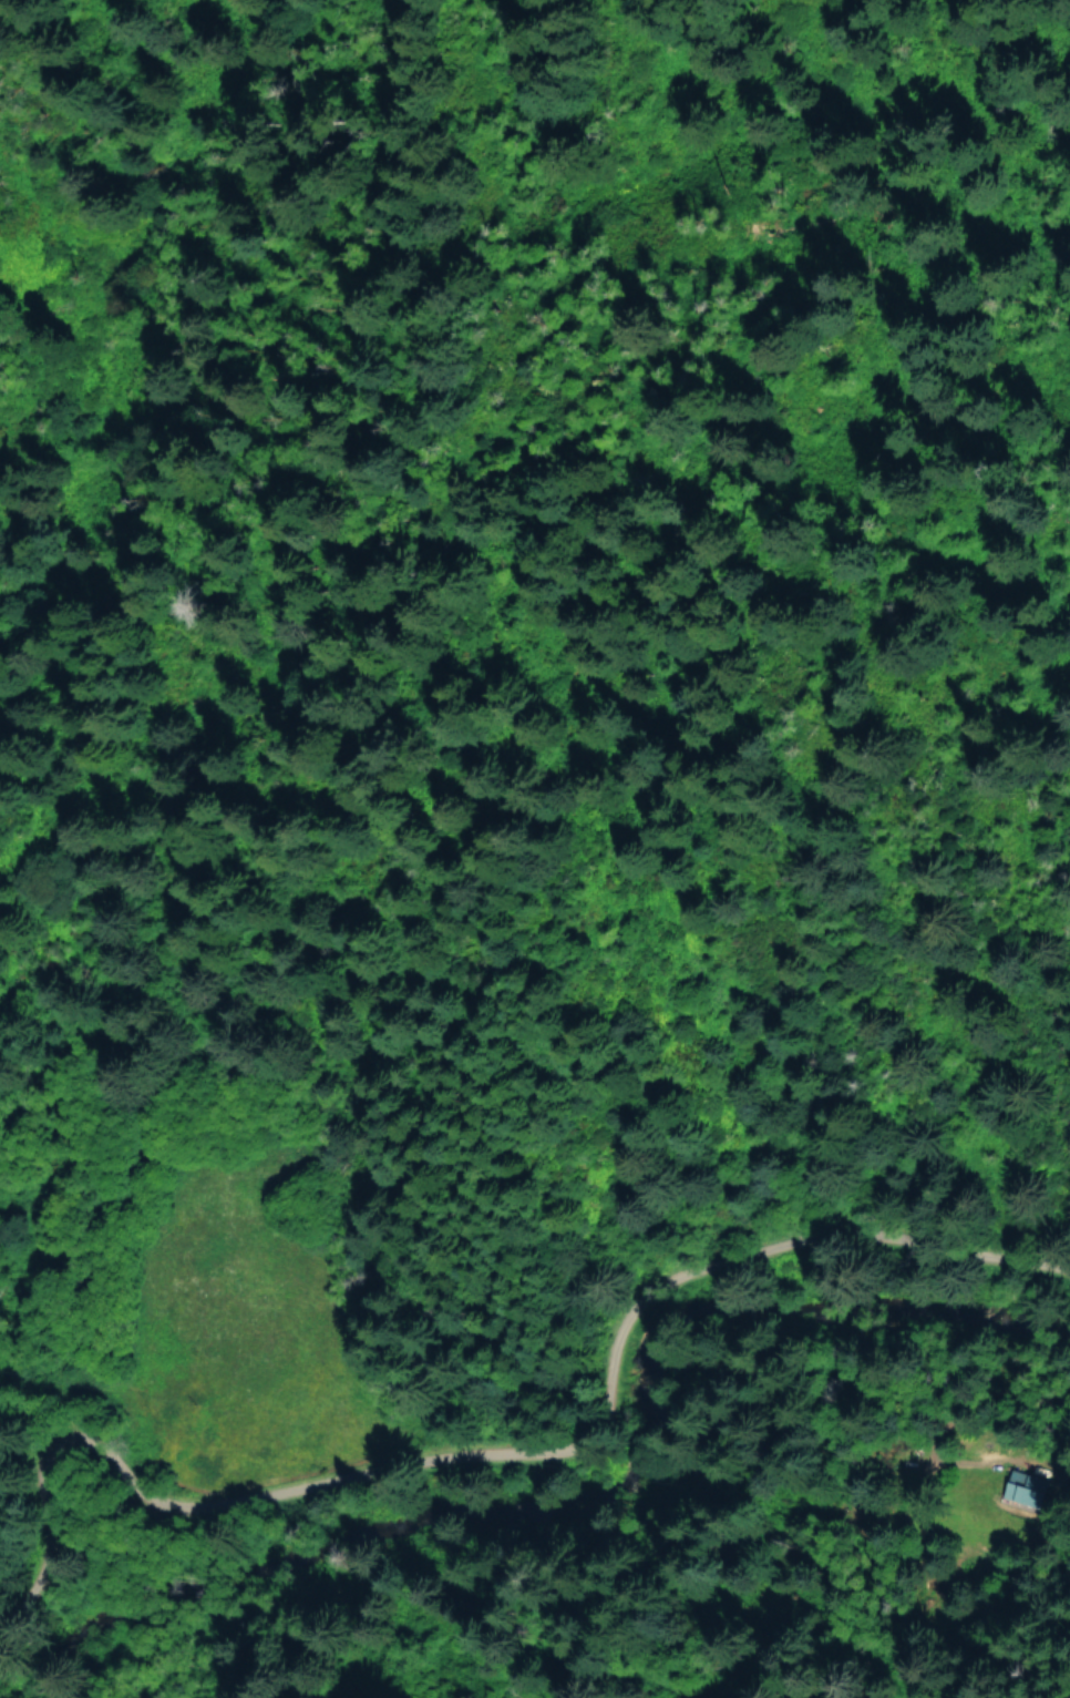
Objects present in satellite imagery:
road: (518, 1444)
building: (1018, 1489)

